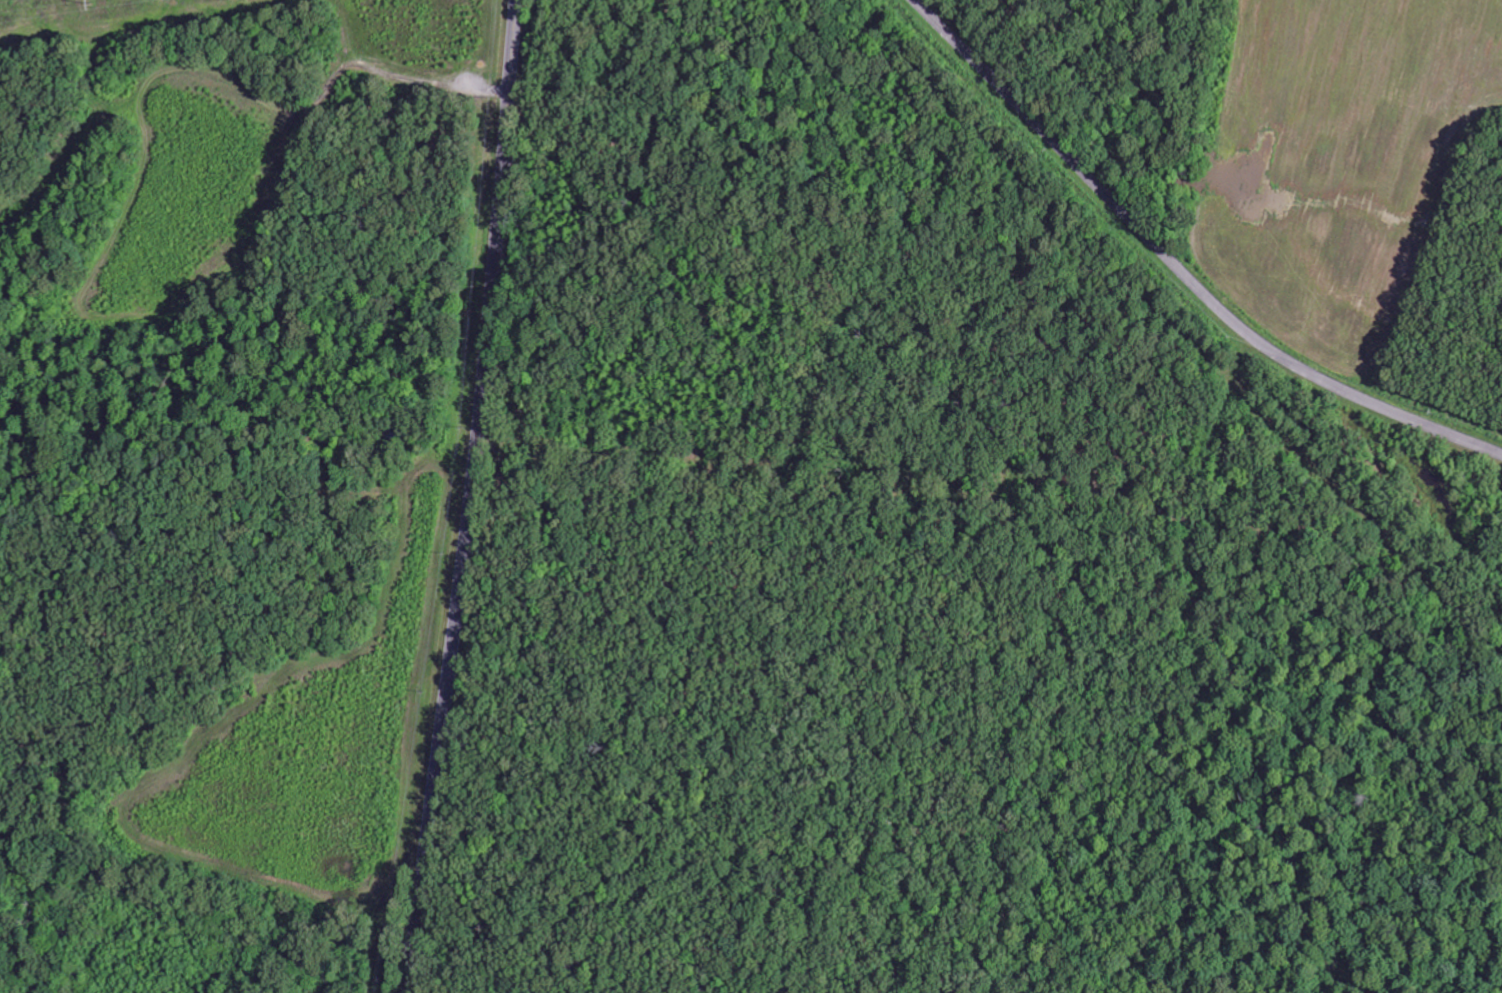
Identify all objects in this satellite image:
power tower: (94, 0)
road: (1179, 267)
road: (473, 497)

